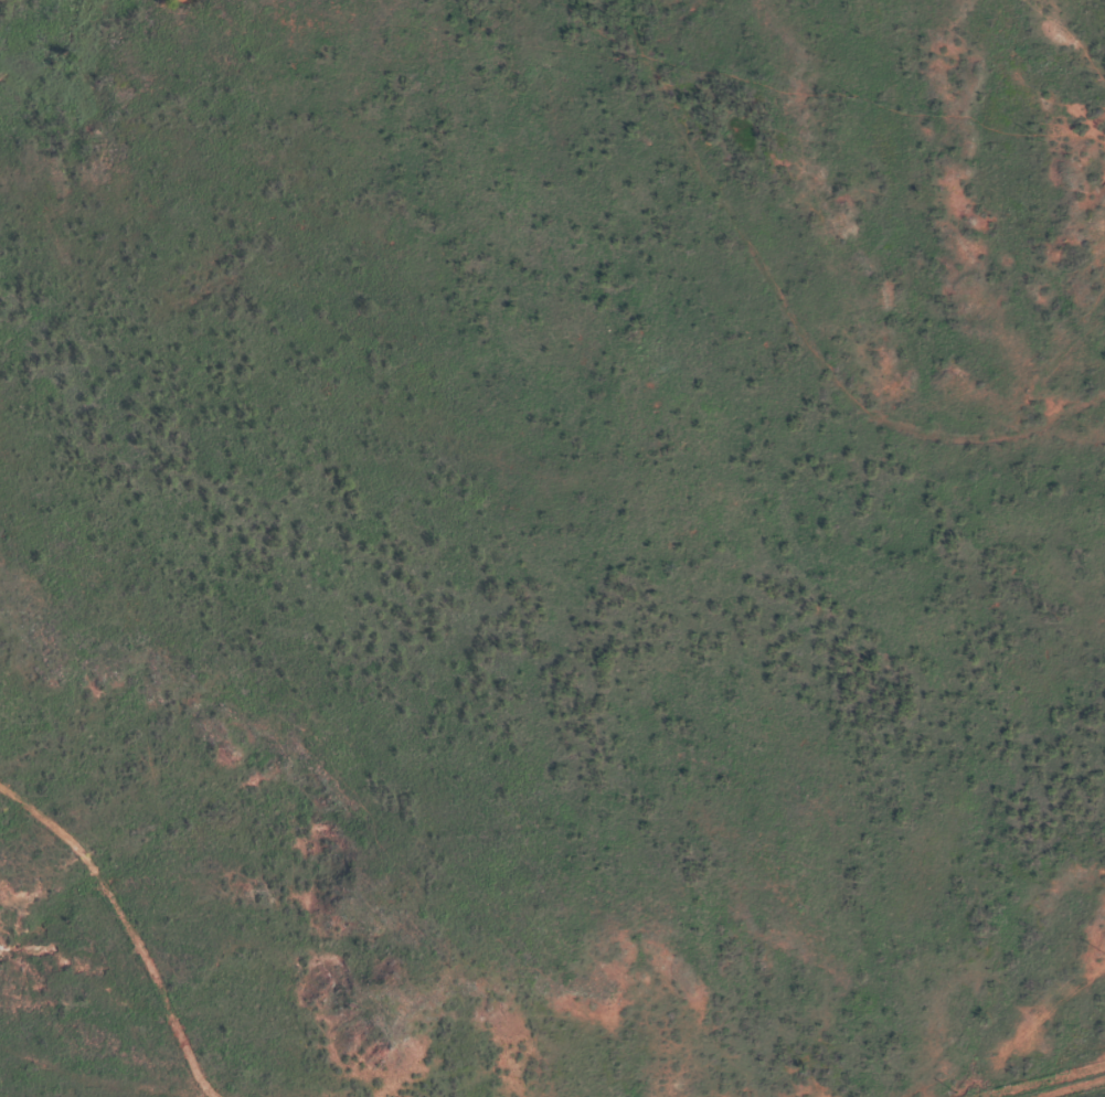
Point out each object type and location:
road: (807, 338)

